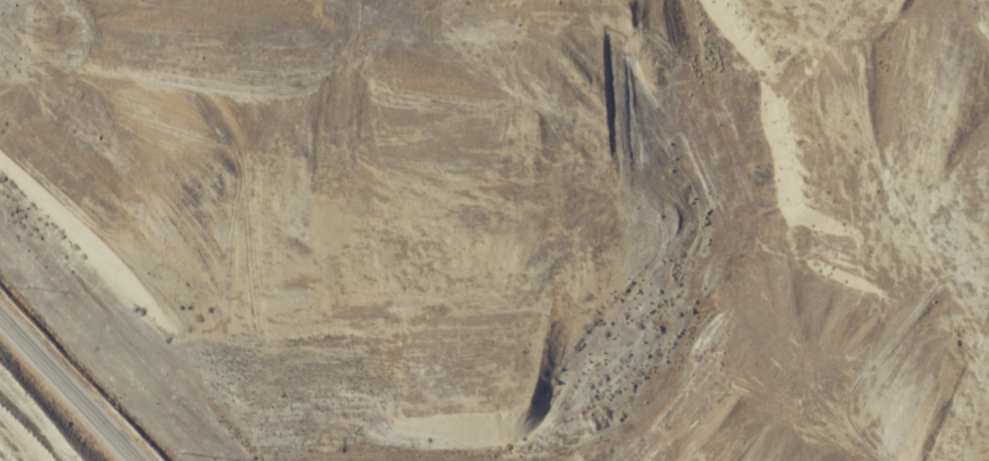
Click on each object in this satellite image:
road: (72, 383)

